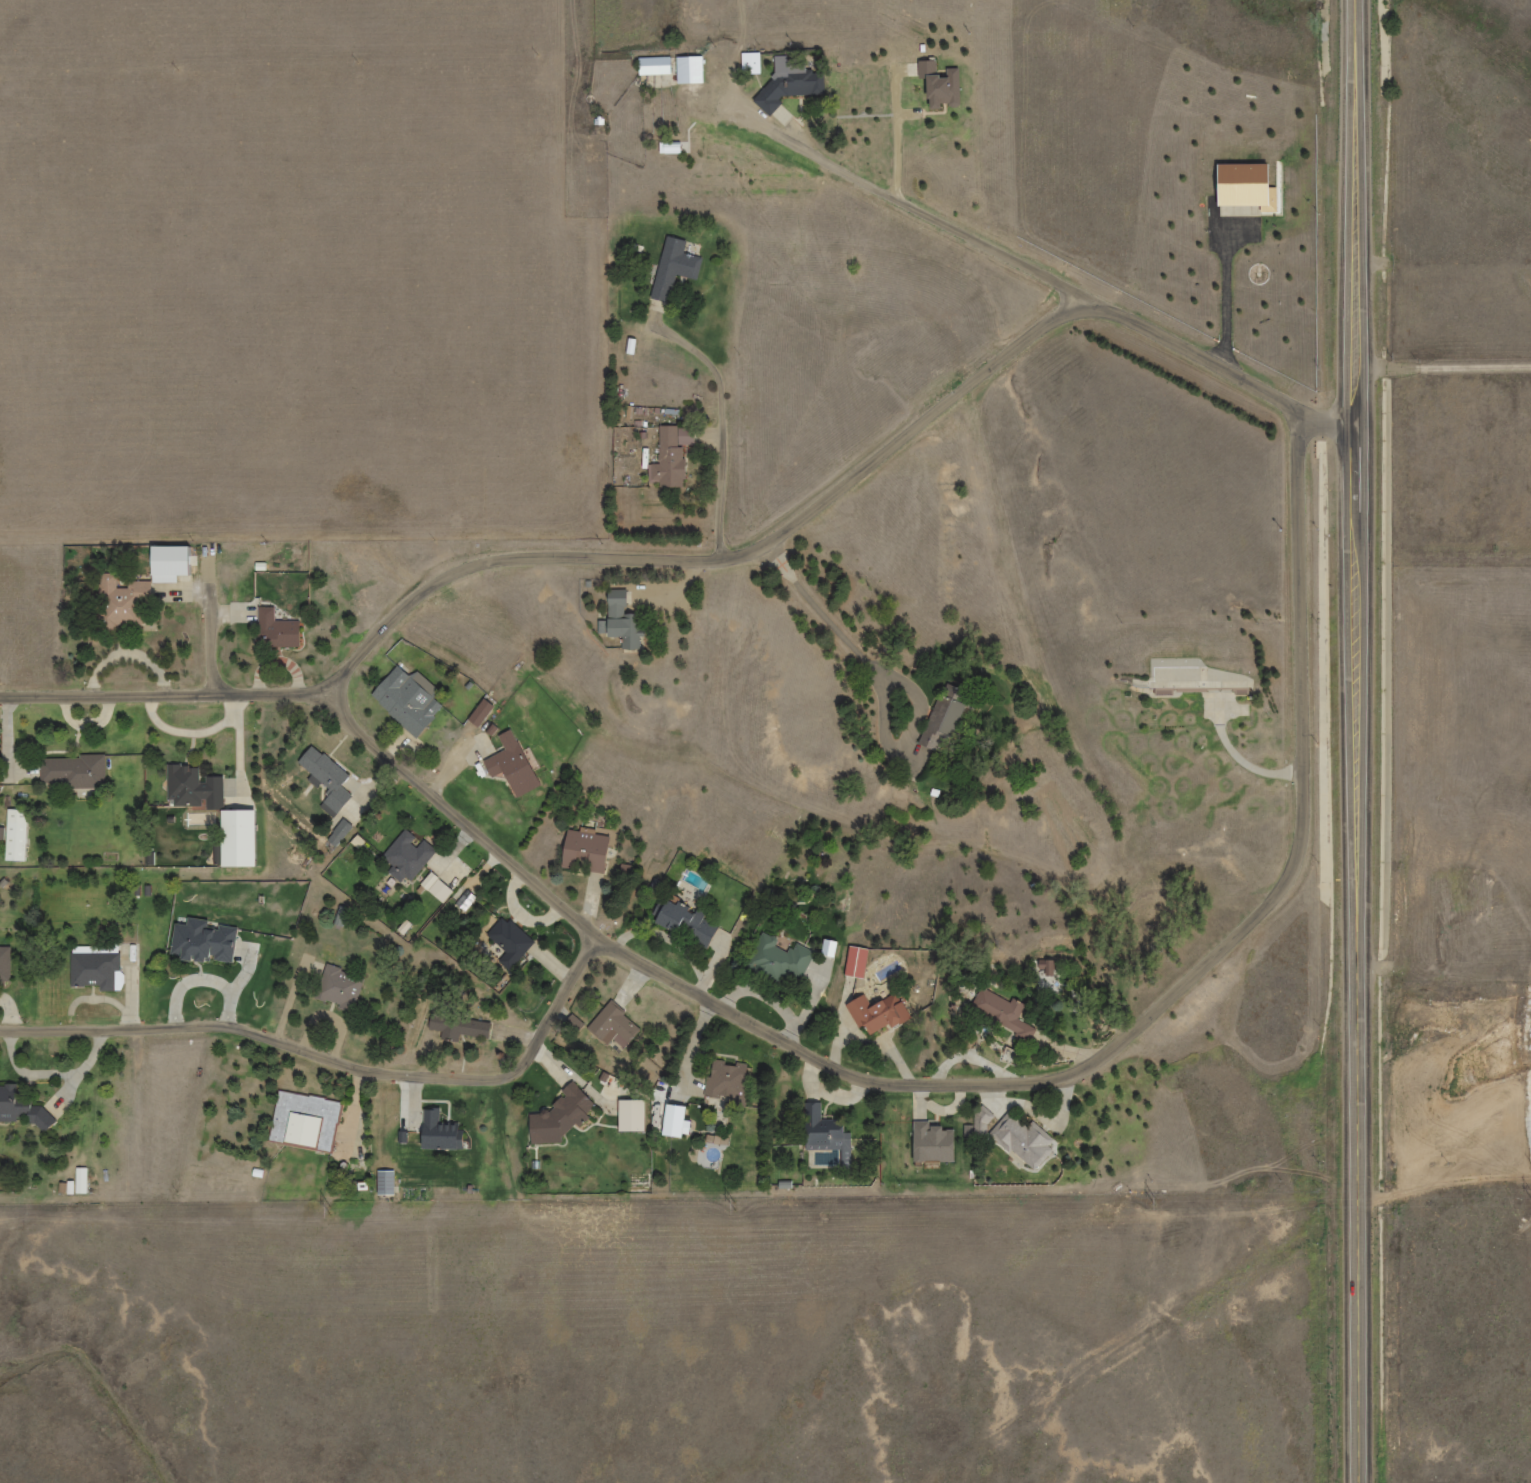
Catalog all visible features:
building: (750, 64)
building: (653, 65)
building: (688, 70)
building: (790, 83)
building: (941, 85)
building: (669, 147)
building: (1244, 188)
building: (672, 269)
road: (1046, 273)
road: (1443, 367)
road: (727, 423)
building: (671, 455)
road: (721, 558)
building: (172, 559)
building: (122, 602)
building: (621, 621)
road: (215, 630)
building: (274, 630)
building: (1192, 675)
road: (895, 678)
building: (406, 700)
building: (479, 714)
building: (943, 719)
road: (1356, 741)
building: (511, 765)
building: (75, 771)
building: (328, 780)
building: (194, 787)
building: (339, 833)
building: (15, 835)
building: (236, 838)
building: (584, 850)
building: (407, 855)
building: (436, 888)
building: (684, 923)
building: (201, 941)
building: (511, 942)
building: (827, 949)
building: (855, 961)
building: (778, 962)
building: (5, 965)
building: (94, 969)
building: (338, 986)
building: (877, 1012)
building: (1007, 1014)
building: (612, 1022)
building: (459, 1025)
road: (334, 1060)
road: (854, 1075)
building: (725, 1080)
building: (21, 1108)
building: (561, 1115)
building: (631, 1115)
building: (304, 1121)
building: (674, 1121)
building: (825, 1132)
building: (438, 1134)
building: (1023, 1140)
building: (932, 1143)
building: (384, 1182)

